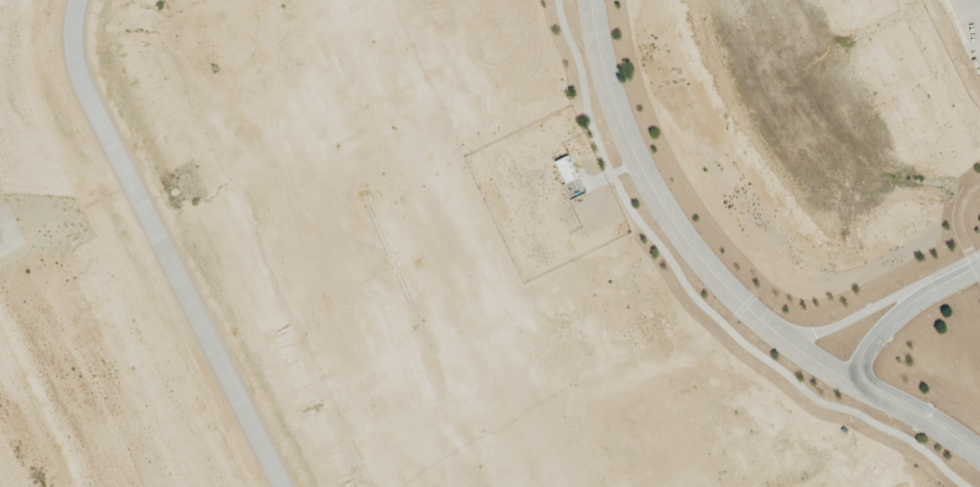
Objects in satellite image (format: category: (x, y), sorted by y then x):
building: (368, 12)
building: (334, 23)
building: (364, 44)
building: (404, 101)
building: (335, 105)
building: (566, 168)
road: (163, 247)
road: (720, 280)
road: (903, 309)

